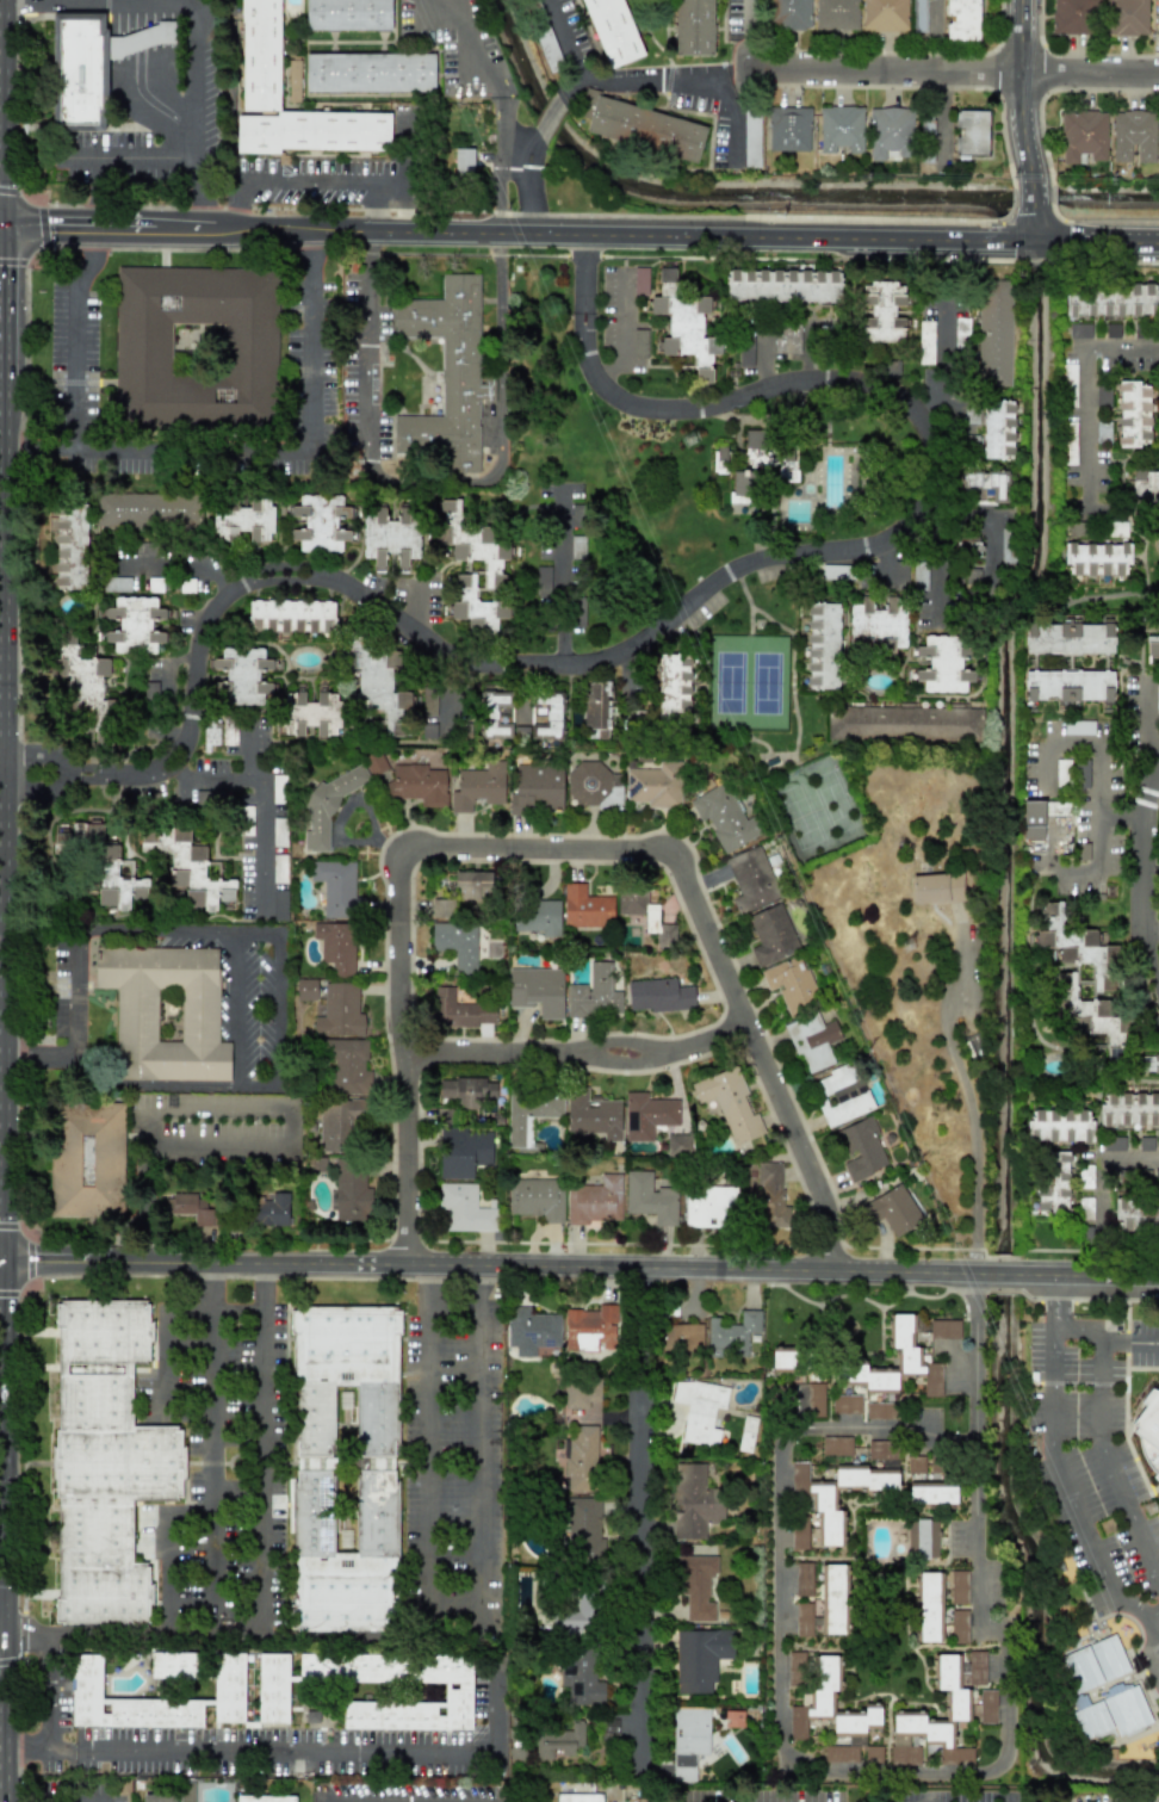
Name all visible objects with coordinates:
building: (347, 14)
building: (791, 14)
building: (836, 14)
building: (884, 16)
building: (918, 16)
building: (1073, 17)
building: (1126, 17)
road: (749, 18)
building: (1157, 18)
building: (961, 19)
building: (693, 27)
building: (611, 31)
road: (565, 38)
building: (548, 49)
road: (749, 52)
building: (260, 55)
building: (91, 64)
road: (884, 70)
building: (370, 72)
road: (1089, 72)
road: (729, 78)
road: (701, 81)
road: (625, 83)
road: (1019, 85)
road: (488, 111)
road: (1, 112)
road: (730, 112)
road: (552, 113)
building: (788, 129)
building: (839, 129)
building: (890, 131)
building: (969, 132)
building: (1134, 135)
road: (204, 136)
building: (1083, 136)
building: (751, 138)
road: (523, 144)
building: (463, 161)
road: (312, 178)
road: (207, 185)
road: (1031, 204)
road: (0, 224)
road: (579, 233)
building: (668, 274)
building: (782, 285)
building: (1110, 302)
building: (882, 312)
road: (1, 316)
road: (621, 328)
building: (961, 329)
building: (1079, 330)
road: (367, 332)
building: (687, 332)
building: (993, 333)
building: (786, 339)
building: (639, 342)
building: (925, 342)
building: (196, 347)
building: (745, 351)
road: (761, 363)
road: (941, 366)
building: (1068, 372)
building: (447, 374)
road: (502, 376)
road: (1084, 391)
building: (1102, 396)
road: (742, 398)
building: (1132, 415)
building: (997, 429)
building: (1102, 429)
power tower: (702, 438)
road: (35, 447)
building: (1071, 448)
road: (179, 450)
building: (769, 456)
building: (743, 484)
building: (1145, 485)
building: (986, 487)
building: (148, 509)
building: (243, 521)
building: (320, 522)
building: (1116, 528)
building: (390, 535)
building: (69, 545)
building: (967, 545)
building: (577, 547)
road: (991, 552)
building: (1096, 559)
road: (179, 563)
building: (491, 565)
building: (836, 571)
road: (938, 572)
building: (919, 574)
building: (899, 575)
road: (566, 582)
building: (117, 583)
building: (541, 583)
building: (154, 584)
building: (576, 613)
building: (291, 615)
building: (878, 623)
building: (135, 625)
building: (1067, 638)
building: (822, 645)
building: (1152, 649)
road: (494, 663)
building: (943, 664)
building: (244, 675)
park: (746, 680)
power tower: (807, 686)
building: (1068, 686)
building: (380, 687)
building: (673, 687)
road: (166, 688)
building: (1157, 699)
building: (428, 702)
building: (596, 708)
building: (308, 713)
building: (495, 714)
building: (546, 714)
road: (1146, 718)
building: (904, 723)
building: (1078, 727)
building: (229, 730)
building: (210, 735)
road: (1084, 743)
building: (374, 763)
road: (62, 767)
building: (1061, 773)
road: (2, 774)
road: (66, 774)
road: (12, 775)
road: (211, 775)
road: (63, 780)
building: (417, 785)
building: (593, 785)
building: (655, 785)
building: (478, 786)
building: (278, 788)
building: (537, 788)
building: (328, 805)
park: (814, 807)
road: (260, 818)
building: (724, 818)
building: (1033, 819)
building: (279, 831)
road: (6, 832)
road: (1097, 842)
road: (565, 857)
building: (103, 865)
building: (190, 868)
building: (279, 868)
building: (751, 879)
building: (473, 884)
building: (936, 887)
building: (336, 888)
road: (1143, 892)
building: (279, 905)
building: (585, 908)
building: (645, 914)
building: (537, 917)
road: (268, 933)
building: (771, 935)
building: (457, 943)
building: (336, 946)
power tower: (917, 947)
building: (1102, 981)
building: (791, 984)
building: (305, 989)
building: (537, 990)
building: (595, 992)
building: (658, 995)
road: (240, 1009)
building: (457, 1010)
building: (340, 1011)
building: (165, 1013)
building: (812, 1040)
road: (581, 1054)
road: (2, 1060)
building: (1147, 1063)
building: (348, 1067)
building: (151, 1085)
building: (466, 1090)
road: (963, 1092)
building: (841, 1095)
building: (730, 1103)
road: (228, 1108)
building: (1129, 1110)
building: (593, 1115)
building: (647, 1115)
building: (529, 1116)
building: (340, 1123)
building: (1059, 1126)
building: (1114, 1142)
building: (677, 1144)
building: (860, 1148)
building: (463, 1152)
road: (1130, 1157)
building: (86, 1159)
building: (1085, 1176)
building: (1053, 1181)
building: (351, 1190)
building: (650, 1197)
building: (769, 1197)
building: (535, 1199)
building: (594, 1201)
building: (709, 1206)
building: (188, 1208)
building: (464, 1208)
building: (271, 1209)
building: (895, 1209)
building: (1136, 1214)
road: (2, 1257)
road: (582, 1264)
road: (1059, 1301)
building: (591, 1329)
building: (944, 1329)
building: (531, 1331)
road: (166, 1335)
building: (731, 1335)
building: (681, 1337)
road: (1129, 1345)
road: (1056, 1346)
building: (782, 1358)
building: (901, 1362)
building: (853, 1402)
building: (699, 1410)
building: (880, 1410)
building: (1148, 1430)
building: (746, 1433)
building: (581, 1435)
road: (5, 1439)
building: (836, 1447)
road: (216, 1448)
road: (267, 1449)
building: (882, 1453)
building: (105, 1461)
building: (916, 1468)
building: (345, 1469)
building: (931, 1493)
building: (829, 1500)
building: (694, 1501)
power tower: (1154, 1510)
road: (643, 1519)
building: (583, 1529)
building: (922, 1538)
road: (166, 1553)
building: (802, 1579)
building: (696, 1585)
building: (959, 1587)
building: (833, 1599)
building: (930, 1606)
building: (581, 1611)
building: (802, 1620)
road: (6, 1627)
road: (25, 1627)
building: (959, 1627)
road: (237, 1639)
road: (455, 1639)
road: (6, 1641)
road: (25, 1643)
road: (1153, 1645)
building: (700, 1658)
building: (1093, 1664)
building: (174, 1665)
building: (795, 1667)
building: (228, 1677)
building: (581, 1677)
road: (49, 1691)
building: (272, 1691)
building: (957, 1699)
building: (987, 1707)
building: (1112, 1710)
building: (831, 1713)
road: (6, 1726)
building: (688, 1740)
building: (558, 1741)
road: (27, 1747)
road: (314, 1751)
building: (873, 1754)
road: (872, 1772)
building: (186, 1791)
building: (159, 1797)
building: (578, 1797)
building: (264, 1798)
road: (80, 1801)

